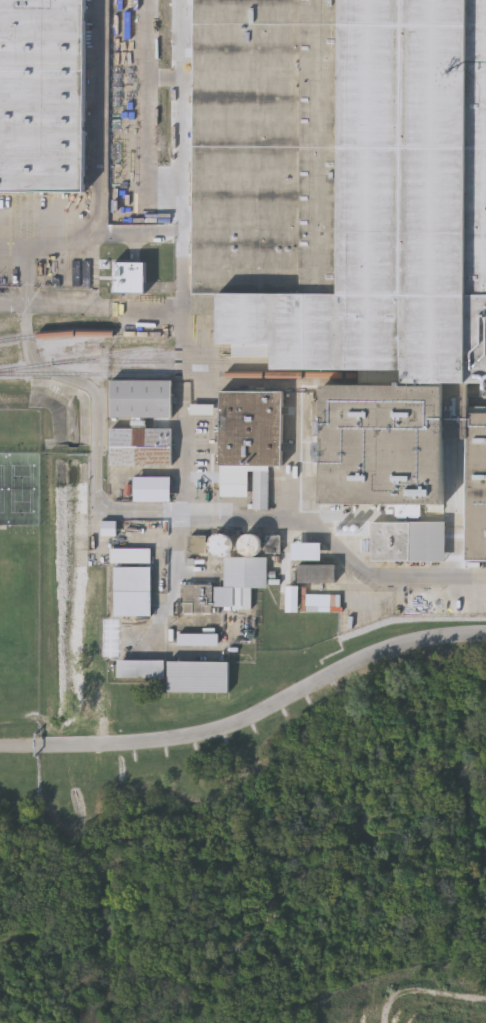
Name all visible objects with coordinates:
road: (137, 58)
building: (42, 95)
road: (103, 153)
building: (353, 222)
road: (187, 248)
road: (26, 262)
building: (134, 279)
railway: (61, 334)
railway: (137, 351)
railway: (169, 360)
railway: (178, 374)
building: (141, 396)
building: (249, 427)
building: (140, 445)
park: (4, 486)
park: (23, 486)
building: (152, 486)
road: (184, 512)
building: (112, 530)
building: (408, 539)
building: (311, 553)
building: (133, 557)
building: (319, 574)
building: (136, 593)
building: (201, 599)
park: (21, 600)
building: (202, 641)
building: (145, 670)
building: (203, 678)
road: (249, 715)

